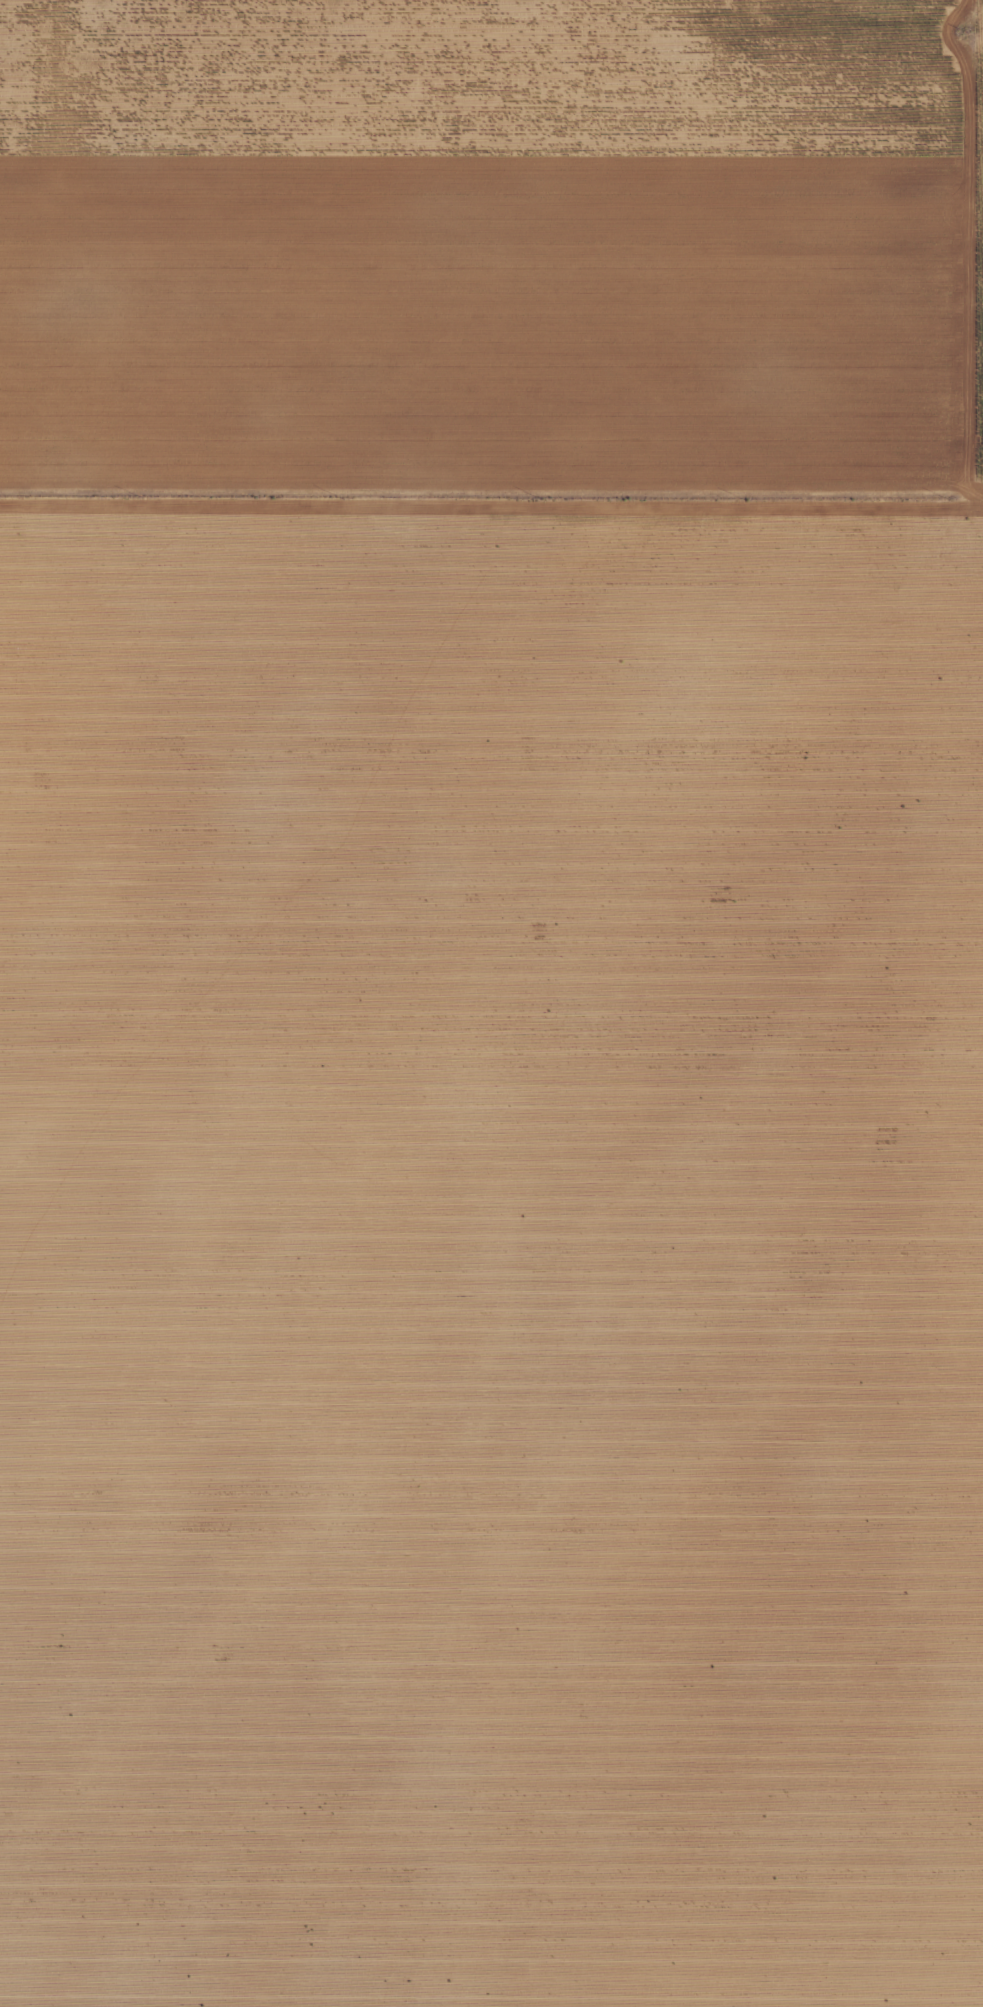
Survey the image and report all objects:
road: (531, 143)

